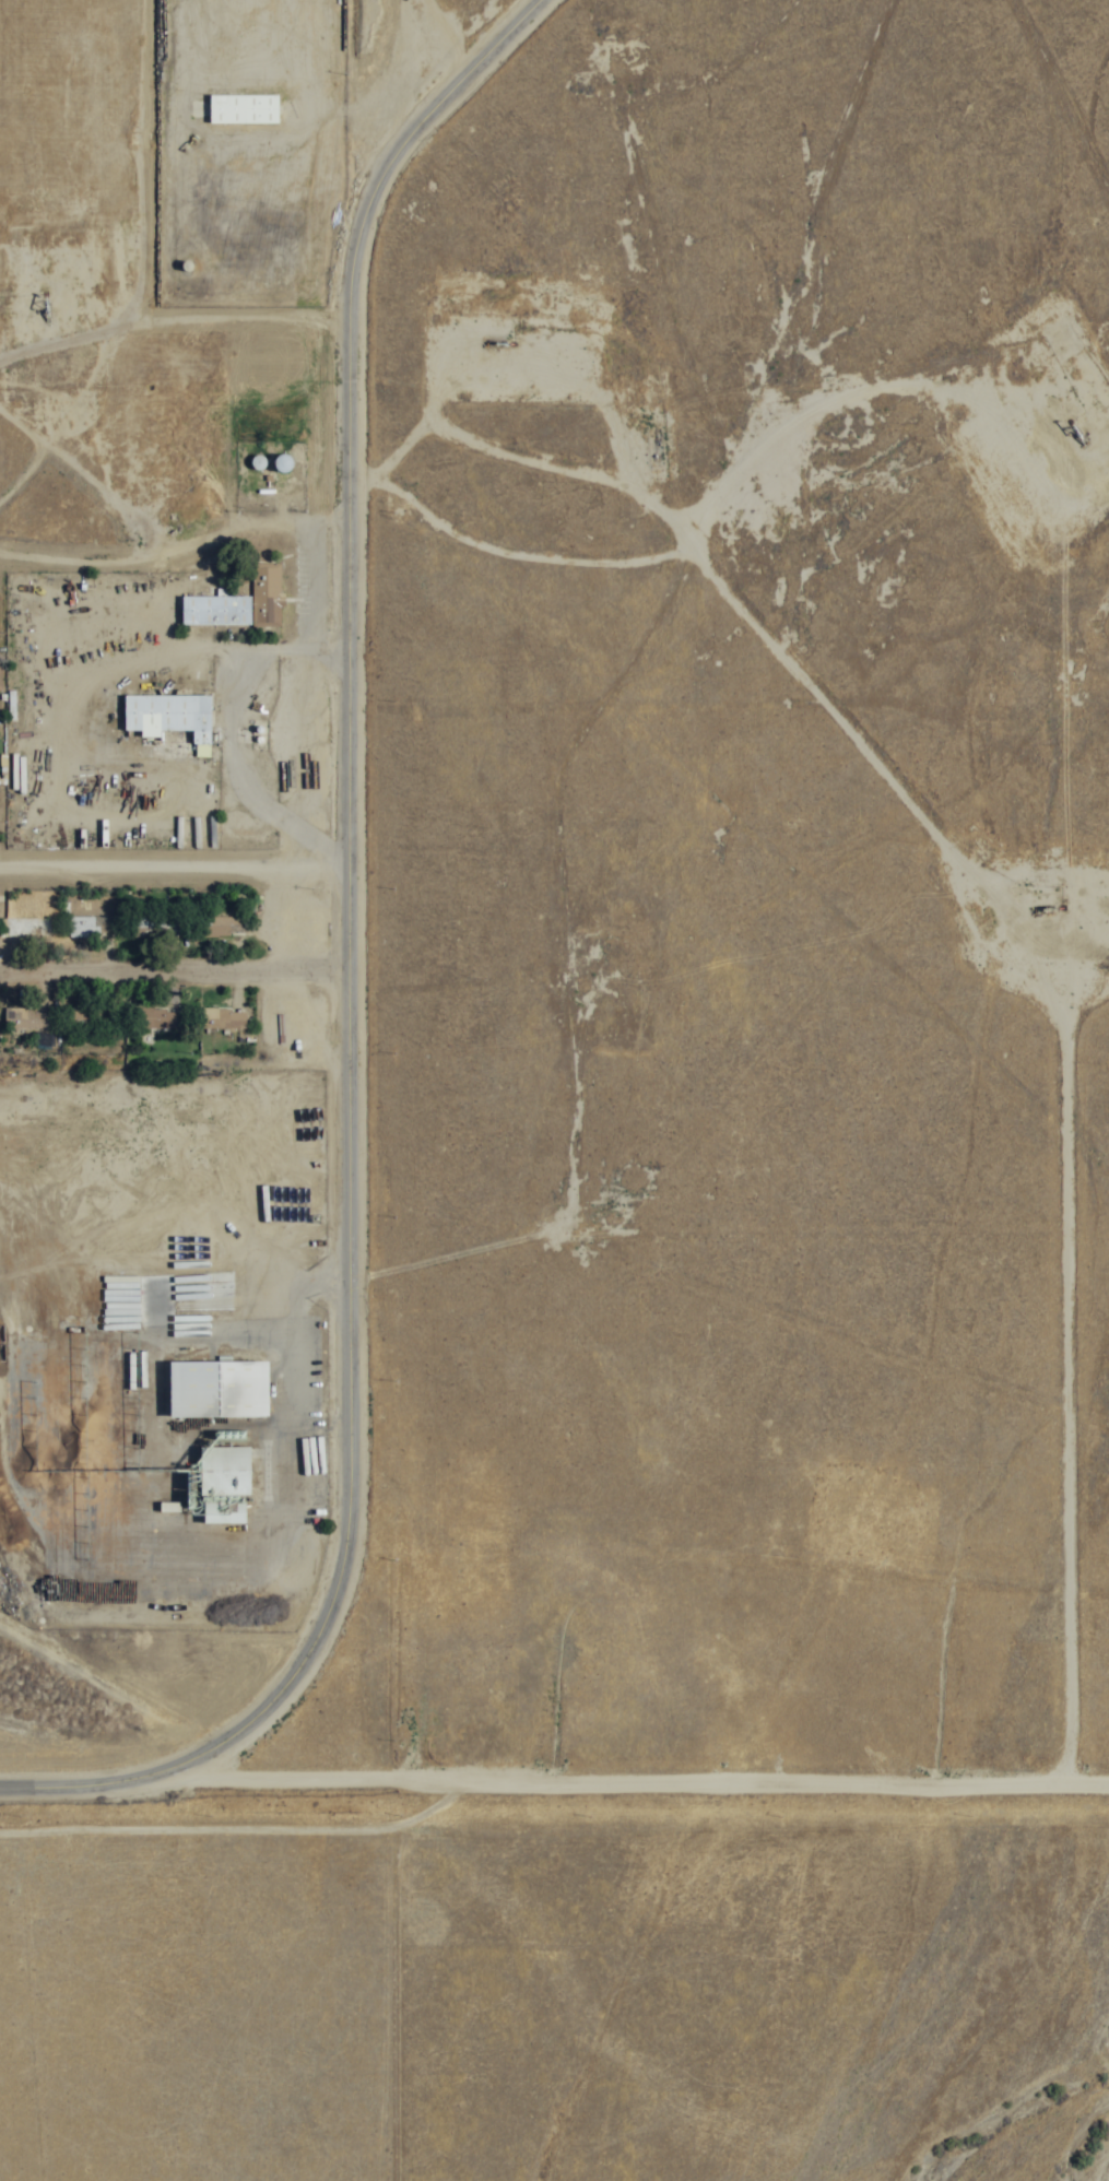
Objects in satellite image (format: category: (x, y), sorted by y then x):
building: (239, 110)
building: (263, 596)
building: (212, 610)
building: (166, 717)
road: (177, 827)
building: (214, 927)
road: (177, 955)
road: (355, 977)
building: (219, 1018)
building: (26, 1019)
building: (158, 1019)
building: (212, 1390)
building: (221, 1485)
building: (165, 1508)
wastewater plant: (465, 1728)

